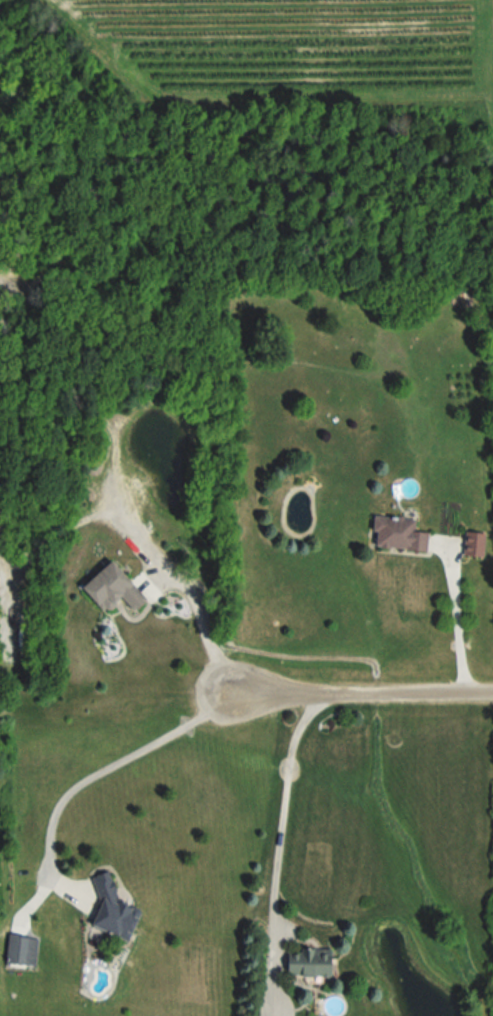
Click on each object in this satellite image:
building: (398, 533)
building: (473, 543)
building: (112, 588)
road: (447, 619)
road: (208, 631)
road: (366, 692)
road: (124, 762)
road: (282, 816)
building: (112, 912)
building: (21, 949)
building: (309, 962)

